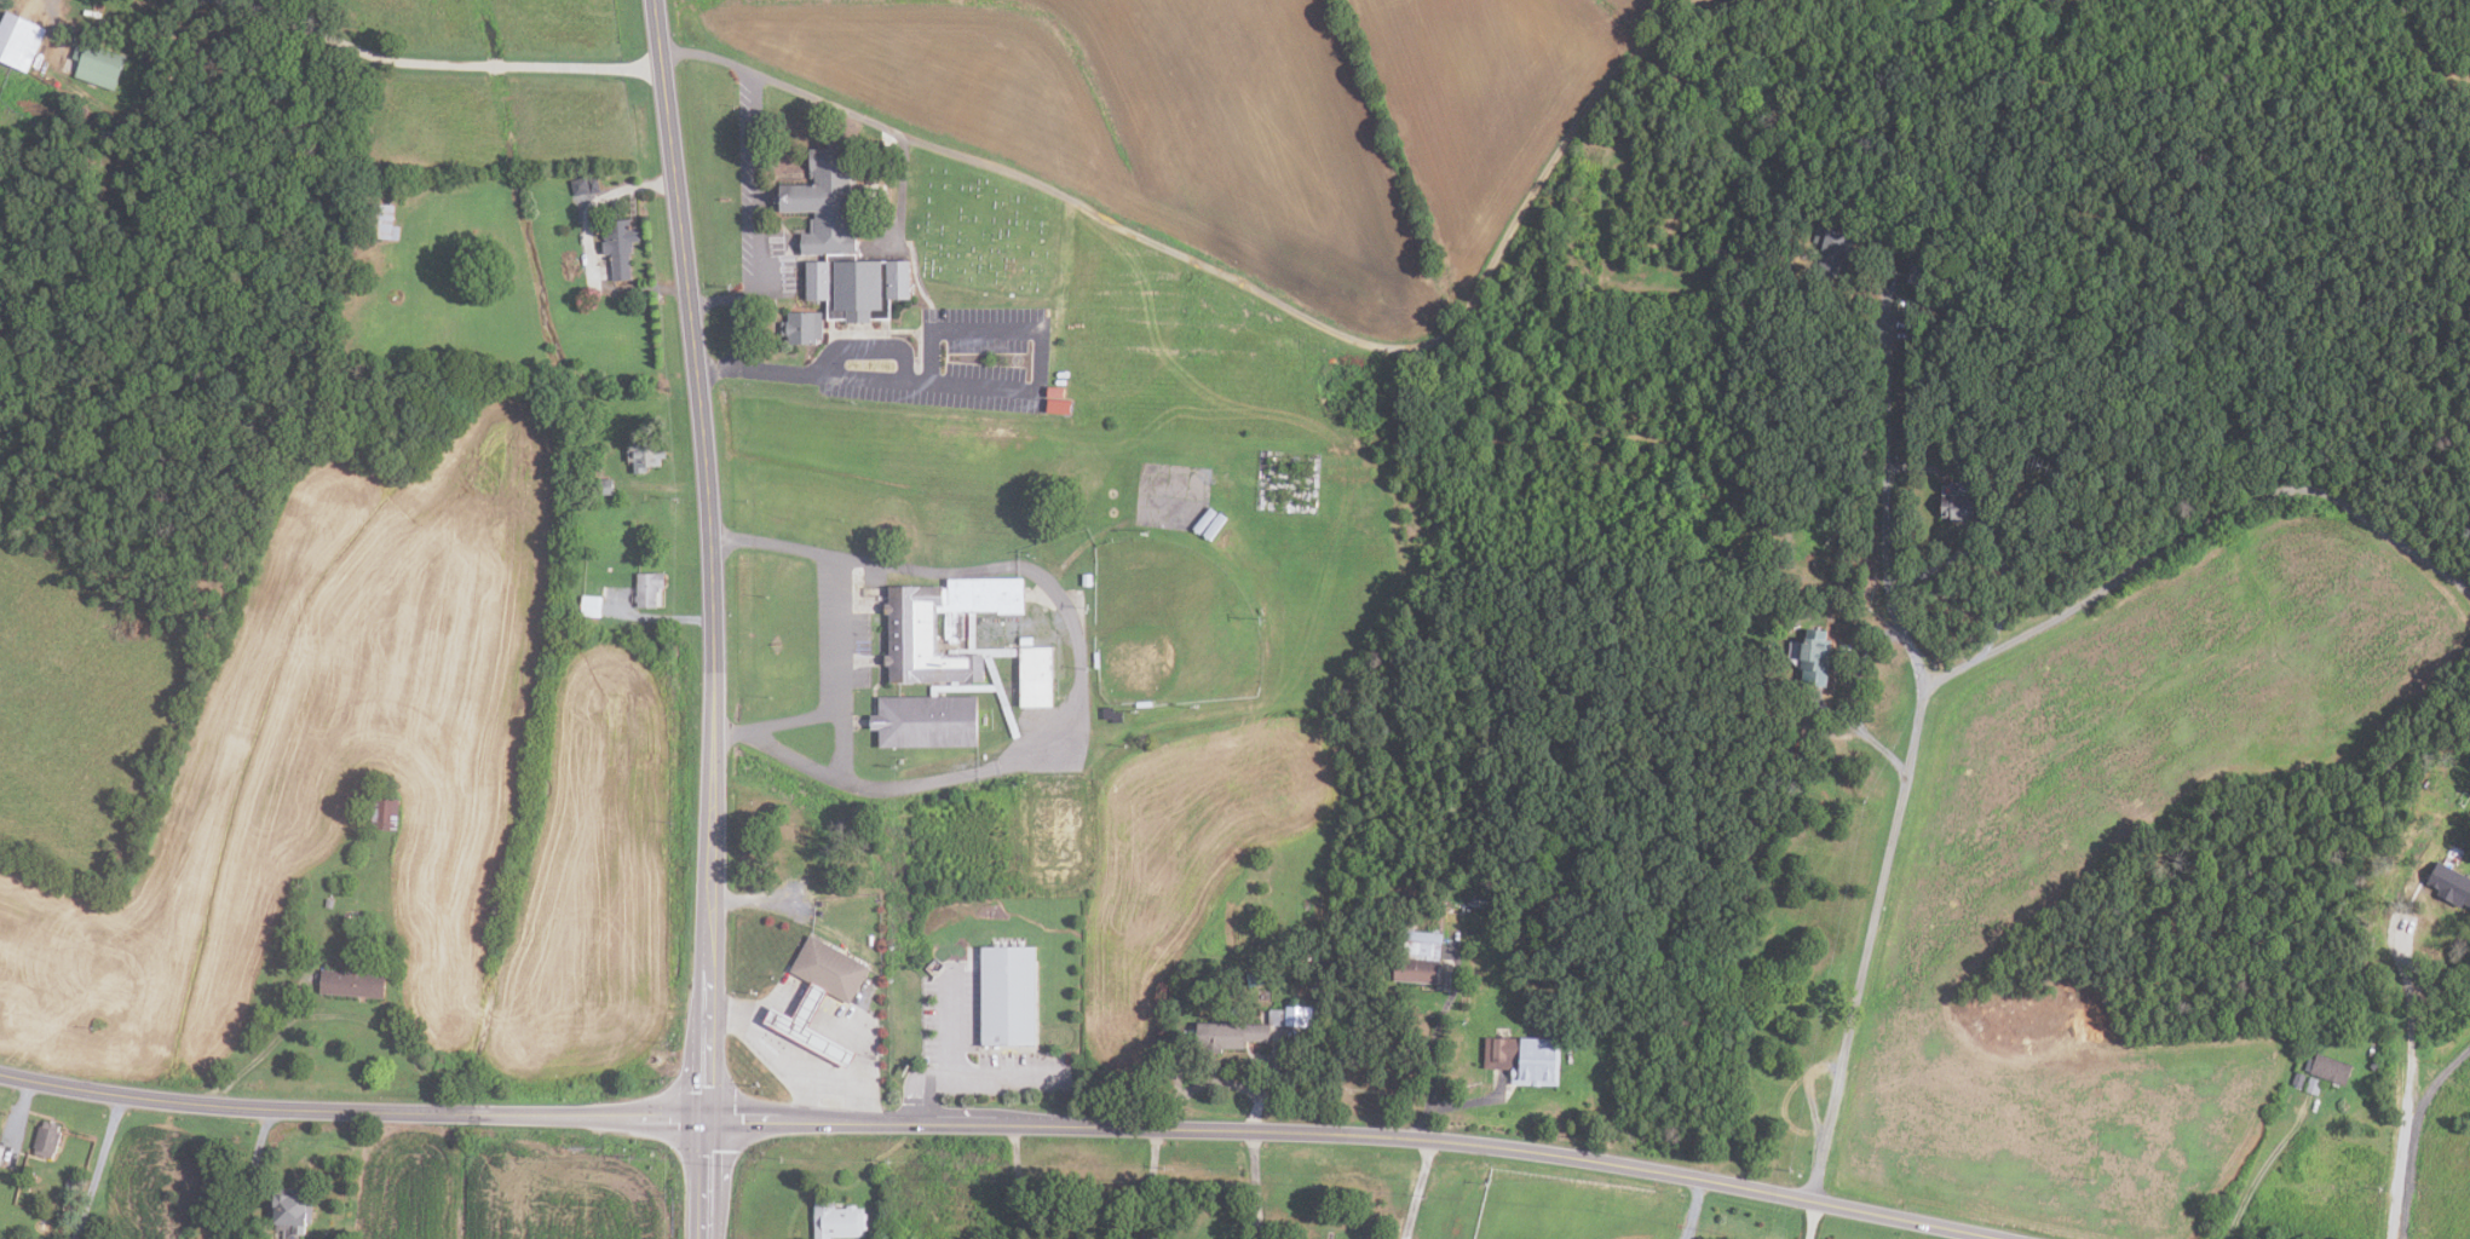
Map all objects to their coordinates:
road: (228, 0)
road: (234, 0)
building: (2055, 1)
building: (18, 41)
road: (356, 48)
building: (98, 65)
road: (495, 65)
road: (582, 65)
crop: (1481, 99)
crop: (1133, 120)
building: (592, 185)
road: (594, 203)
road: (758, 212)
building: (380, 223)
park: (979, 235)
building: (840, 241)
building: (618, 248)
building: (1832, 248)
building: (1919, 272)
road: (1245, 284)
building: (802, 325)
road: (739, 336)
road: (943, 388)
building: (1055, 391)
building: (1058, 404)
building: (644, 455)
building: (594, 465)
building: (601, 488)
building: (1961, 507)
road: (2192, 526)
road: (1988, 548)
building: (1087, 578)
building: (649, 589)
building: (591, 606)
road: (660, 617)
road: (716, 617)
road: (834, 630)
building: (912, 630)
building: (1815, 657)
building: (1036, 675)
road: (1076, 713)
building: (1112, 714)
building: (928, 718)
road: (1867, 733)
road: (1912, 742)
building: (384, 813)
building: (2451, 882)
crop: (1968, 912)
building: (351, 922)
building: (1423, 935)
building: (1418, 950)
building: (830, 963)
building: (1416, 970)
building: (1255, 978)
building: (352, 982)
building: (1008, 991)
road: (328, 1014)
building: (810, 1021)
road: (1433, 1025)
building: (1250, 1030)
road: (770, 1054)
building: (1526, 1059)
building: (2374, 1065)
building: (2330, 1068)
road: (952, 1071)
road: (2408, 1074)
building: (2298, 1078)
road: (1220, 1079)
road: (845, 1084)
road: (922, 1085)
building: (2313, 1085)
road: (1474, 1100)
road: (17, 1118)
traffic signals: (710, 1118)
road: (1423, 1119)
road: (1013, 1122)
road: (2413, 1133)
building: (46, 1139)
road: (93, 1166)
road: (2261, 1166)
building: (77, 1171)
road: (251, 1172)
road: (1014, 1180)
road: (1150, 1181)
road: (1253, 1182)
road: (1416, 1187)
building: (68, 1188)
crop: (503, 1192)
road: (1692, 1206)
building: (290, 1210)
road: (1808, 1217)
building: (837, 1221)

